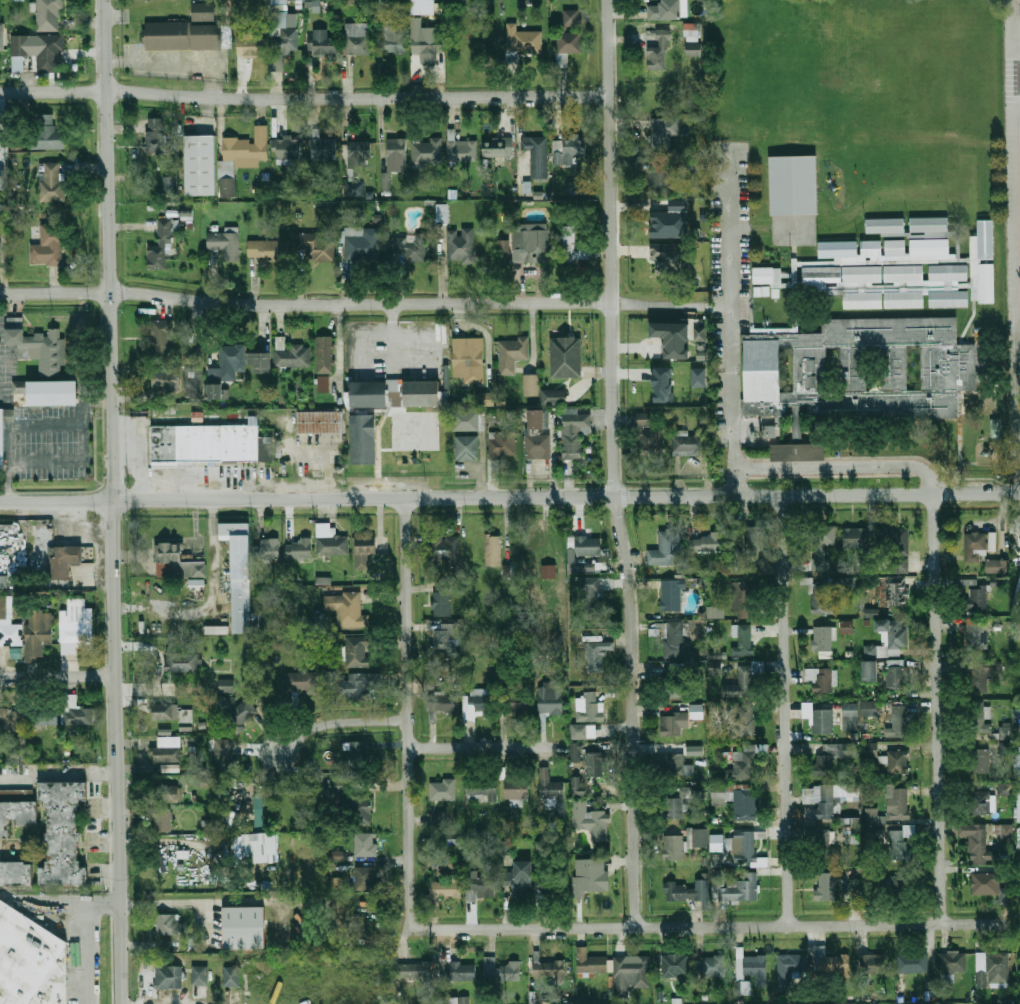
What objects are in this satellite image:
building: (315, 5)
building: (425, 7)
building: (665, 10)
building: (203, 13)
building: (49, 15)
building: (571, 18)
building: (279, 19)
building: (692, 33)
building: (207, 35)
building: (167, 36)
building: (393, 37)
building: (357, 38)
building: (524, 39)
building: (2, 41)
building: (286, 42)
building: (323, 42)
building: (427, 42)
building: (568, 46)
building: (254, 48)
building: (660, 51)
building: (37, 52)
road: (304, 98)
building: (45, 133)
building: (664, 133)
building: (155, 136)
building: (247, 146)
building: (497, 147)
building: (324, 148)
building: (568, 149)
building: (288, 150)
building: (462, 150)
building: (427, 151)
building: (360, 152)
building: (396, 153)
building: (537, 154)
building: (201, 165)
building: (690, 166)
building: (51, 182)
building: (658, 182)
building: (4, 183)
building: (794, 184)
building: (169, 186)
building: (228, 187)
building: (575, 187)
building: (351, 189)
building: (442, 212)
building: (671, 221)
building: (929, 224)
building: (885, 225)
building: (1, 242)
building: (569, 242)
building: (226, 243)
building: (531, 243)
building: (360, 244)
building: (461, 244)
building: (48, 246)
building: (314, 246)
building: (412, 247)
building: (160, 248)
building: (503, 248)
building: (261, 250)
building: (885, 250)
building: (670, 257)
building: (974, 261)
building: (767, 275)
building: (890, 285)
road: (660, 302)
road: (719, 302)
road: (306, 304)
road: (730, 322)
building: (701, 334)
building: (676, 338)
building: (703, 346)
building: (36, 347)
building: (325, 354)
building: (512, 354)
building: (291, 355)
building: (168, 356)
building: (705, 356)
building: (566, 357)
building: (468, 358)
building: (263, 363)
building: (225, 369)
building: (861, 370)
building: (700, 377)
building: (192, 383)
building: (323, 383)
building: (530, 384)
building: (663, 384)
building: (47, 392)
building: (422, 392)
building: (370, 394)
building: (553, 397)
building: (485, 399)
road: (1017, 403)
building: (7, 415)
building: (320, 421)
building: (466, 421)
building: (796, 423)
road: (45, 424)
building: (994, 428)
building: (574, 434)
building: (537, 436)
building: (364, 438)
building: (1, 439)
building: (650, 440)
building: (206, 441)
parking lot: (45, 442)
building: (503, 444)
building: (689, 444)
road: (83, 448)
building: (467, 448)
building: (796, 452)
road: (879, 457)
road: (7, 463)
road: (614, 464)
road: (842, 465)
parking lot: (46, 474)
road: (511, 488)
road: (622, 493)
road: (102, 496)
road: (510, 500)
road: (114, 502)
road: (108, 511)
road: (1001, 512)
building: (1017, 521)
building: (733, 534)
building: (857, 537)
building: (755, 539)
building: (330, 541)
building: (706, 543)
building: (588, 544)
building: (973, 545)
building: (371, 547)
building: (821, 547)
building: (269, 548)
building: (299, 548)
building: (666, 548)
building: (896, 549)
building: (493, 551)
building: (65, 560)
building: (176, 562)
building: (996, 565)
building: (581, 566)
building: (506, 571)
building: (548, 571)
building: (240, 574)
building: (968, 581)
building: (3, 582)
building: (848, 585)
building: (1018, 587)
building: (893, 592)
building: (818, 595)
building: (672, 596)
building: (976, 597)
building: (591, 598)
building: (443, 600)
building: (741, 600)
building: (346, 609)
building: (715, 612)
building: (76, 625)
building: (8, 626)
building: (845, 626)
building: (657, 630)
building: (38, 633)
building: (976, 634)
building: (892, 635)
building: (448, 636)
building: (822, 638)
building: (743, 640)
building: (674, 641)
building: (357, 651)
building: (824, 654)
building: (597, 655)
building: (181, 663)
building: (714, 668)
building: (871, 670)
building: (983, 673)
building: (897, 675)
road: (57, 677)
building: (821, 678)
building: (744, 679)
building: (300, 681)
building: (358, 684)
building: (226, 685)
building: (672, 688)
building: (552, 697)
building: (443, 704)
building: (481, 704)
building: (515, 704)
building: (589, 707)
building: (868, 708)
road: (938, 709)
building: (76, 711)
building: (697, 711)
road: (786, 711)
building: (44, 712)
building: (164, 712)
building: (241, 714)
road: (407, 716)
building: (850, 716)
building: (981, 717)
building: (744, 719)
building: (11, 720)
building: (185, 720)
building: (822, 720)
building: (898, 720)
building: (671, 725)
building: (1003, 730)
building: (579, 731)
road: (412, 739)
building: (1004, 747)
building: (870, 749)
building: (167, 750)
building: (358, 751)
building: (575, 751)
building: (834, 754)
building: (223, 755)
building: (979, 760)
building: (899, 762)
building: (595, 764)
building: (674, 765)
building: (743, 765)
road: (57, 774)
building: (578, 785)
building: (339, 787)
building: (550, 787)
building: (517, 788)
building: (1003, 788)
building: (443, 790)
building: (482, 791)
building: (827, 800)
building: (742, 802)
building: (979, 802)
building: (900, 805)
building: (1018, 806)
building: (560, 807)
building: (673, 808)
building: (258, 809)
building: (163, 810)
building: (360, 811)
building: (17, 814)
building: (871, 815)
building: (438, 818)
building: (590, 820)
building: (1006, 831)
building: (62, 832)
building: (699, 837)
building: (1018, 837)
building: (716, 842)
building: (975, 842)
building: (744, 844)
building: (366, 845)
building: (900, 845)
building: (823, 846)
building: (260, 847)
building: (674, 847)
building: (336, 855)
building: (446, 864)
building: (15, 873)
building: (591, 875)
building: (366, 879)
building: (523, 879)
building: (336, 883)
building: (827, 885)
building: (989, 886)
building: (735, 887)
building: (480, 888)
building: (897, 888)
building: (446, 889)
building: (684, 891)
road: (177, 903)
road: (42, 904)
building: (166, 924)
building: (245, 927)
road: (706, 927)
road: (85, 937)
building: (24, 955)
building: (819, 957)
building: (952, 962)
building: (591, 963)
building: (875, 963)
building: (913, 963)
building: (675, 965)
building: (840, 965)
building: (713, 966)
building: (994, 966)
building: (756, 968)
building: (788, 969)
building: (411, 971)
building: (461, 971)
building: (501, 971)
building: (549, 971)
building: (631, 973)
building: (201, 975)
building: (232, 976)
building: (168, 977)
building: (54, 983)
road: (147, 984)
building: (455, 1000)

